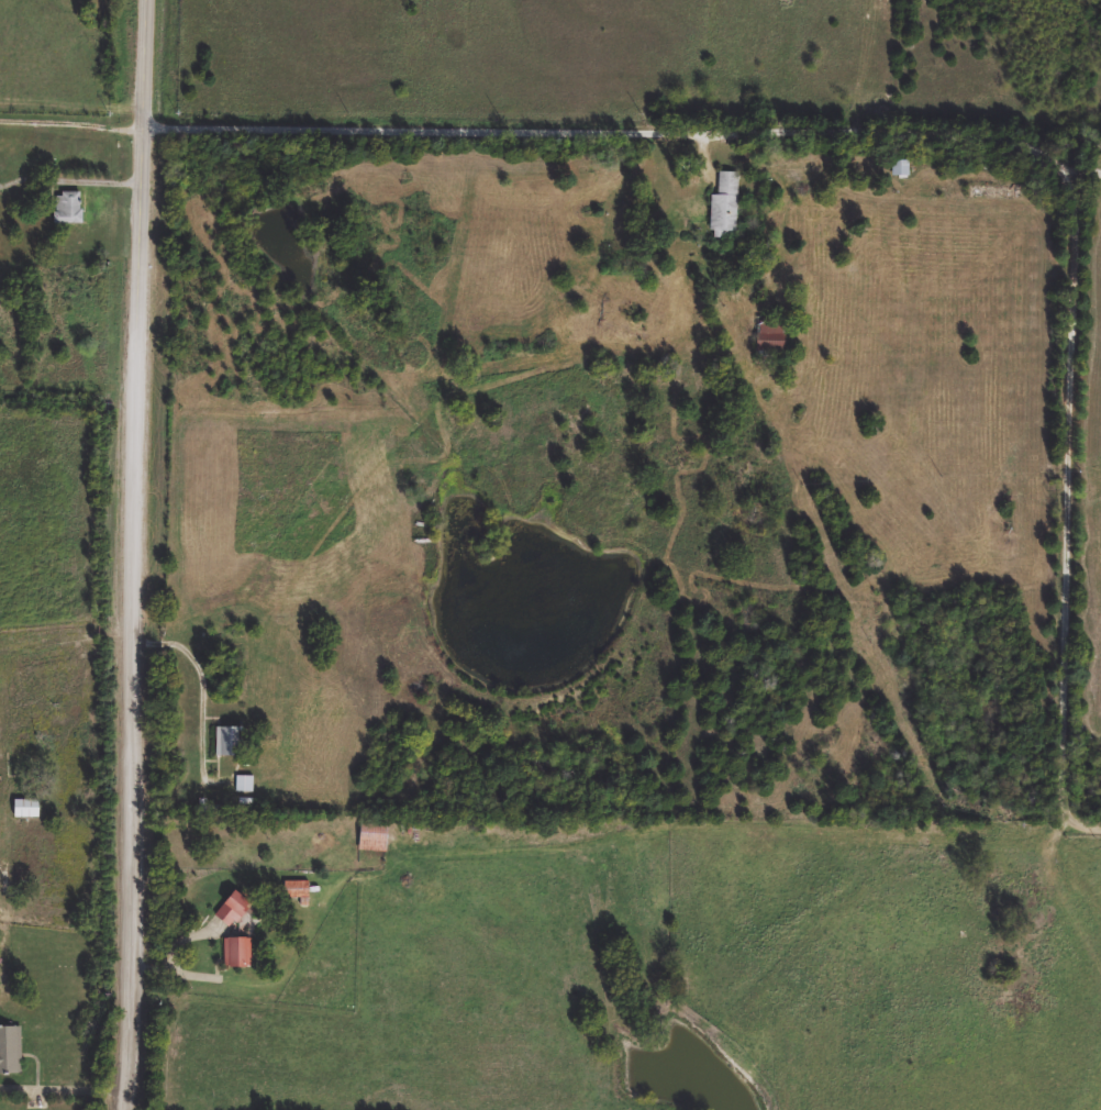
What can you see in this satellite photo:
road: (75, 124)
road: (953, 130)
road: (1082, 160)
building: (902, 169)
road: (74, 174)
building: (997, 193)
building: (726, 204)
building: (68, 209)
building: (772, 336)
road: (135, 555)
road: (68, 632)
building: (227, 741)
building: (246, 784)
building: (27, 809)
road: (607, 834)
building: (374, 837)
building: (298, 892)
building: (234, 909)
building: (238, 953)
building: (11, 1050)
road: (65, 1083)

